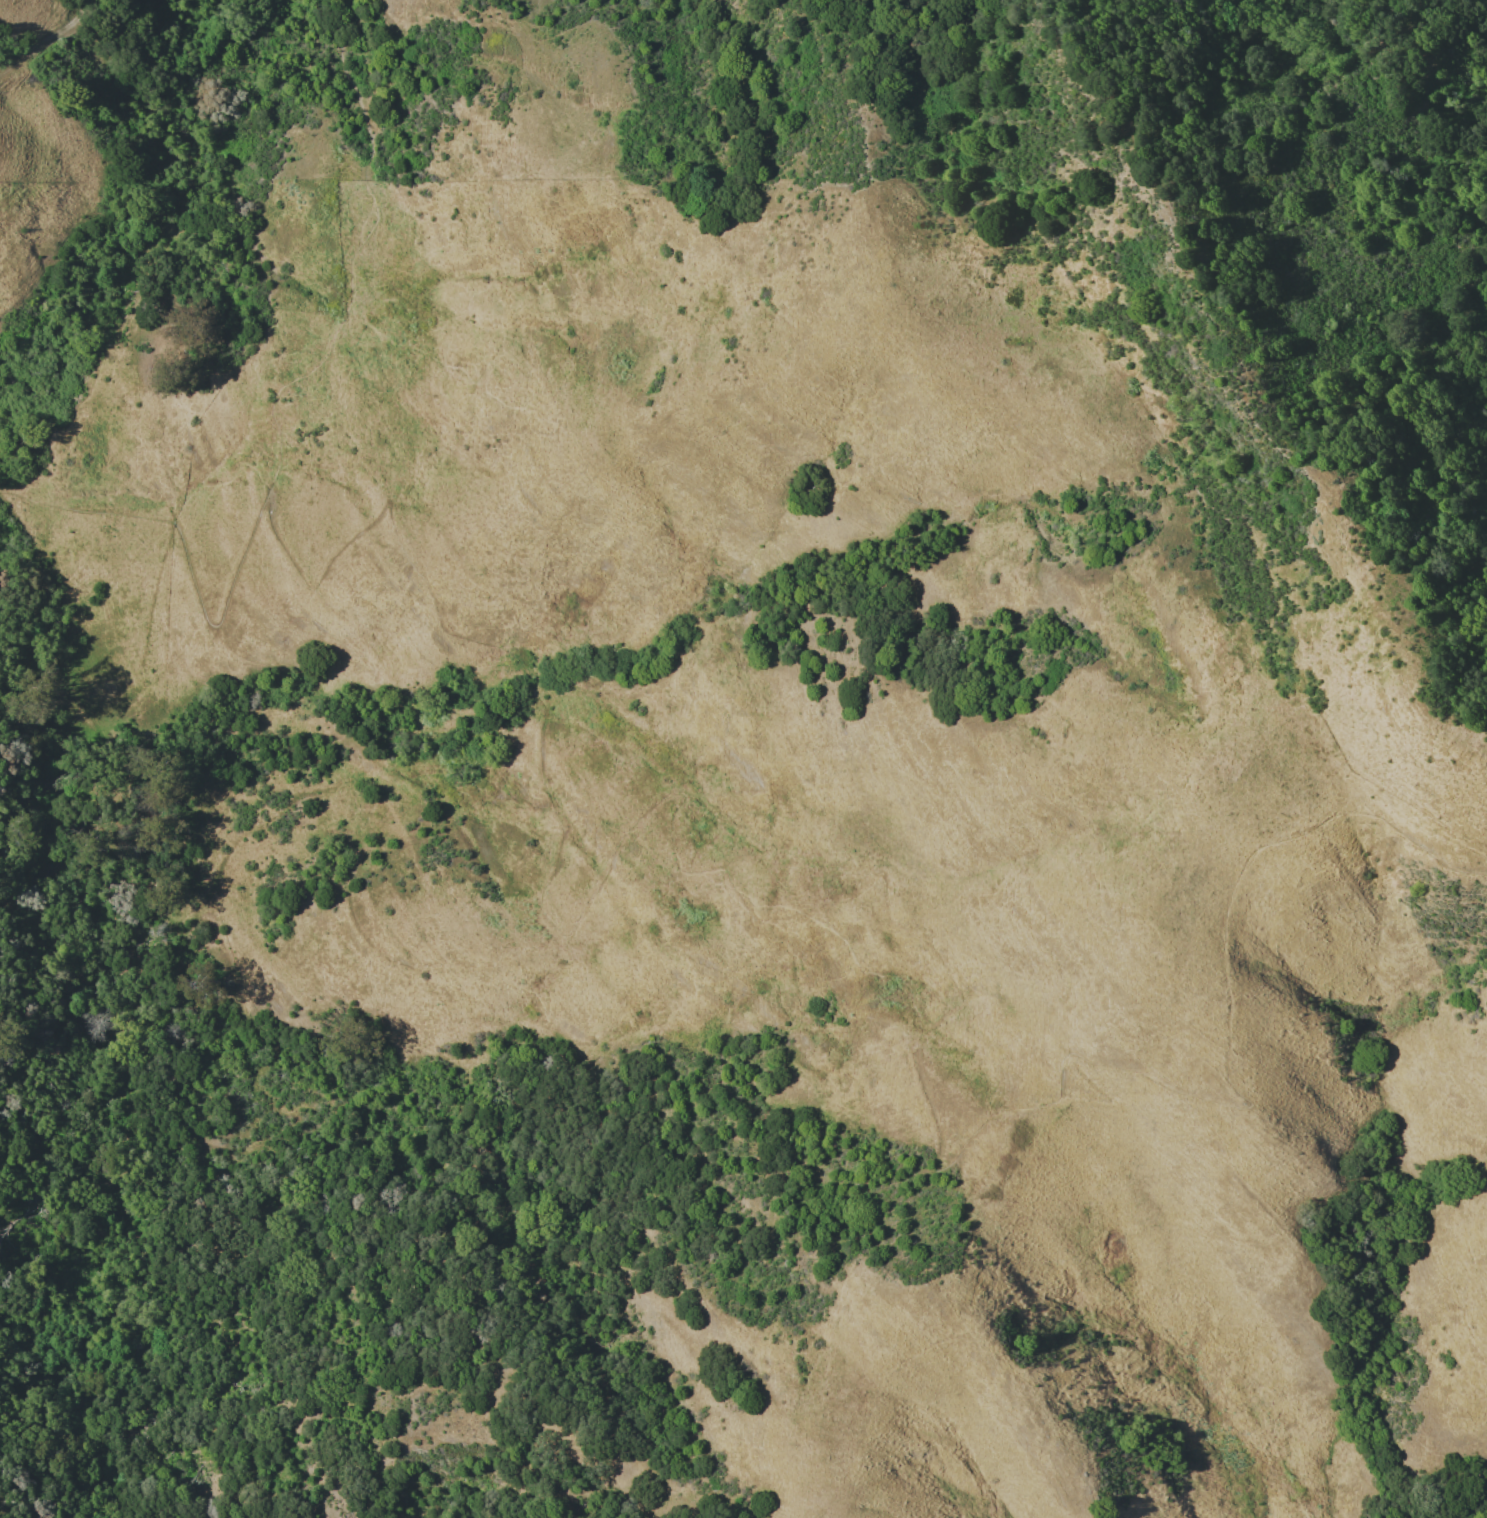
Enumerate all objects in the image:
road: (47, 36)
road: (355, 250)
road: (190, 543)
road: (1439, 719)
road: (1470, 730)
road: (883, 885)

